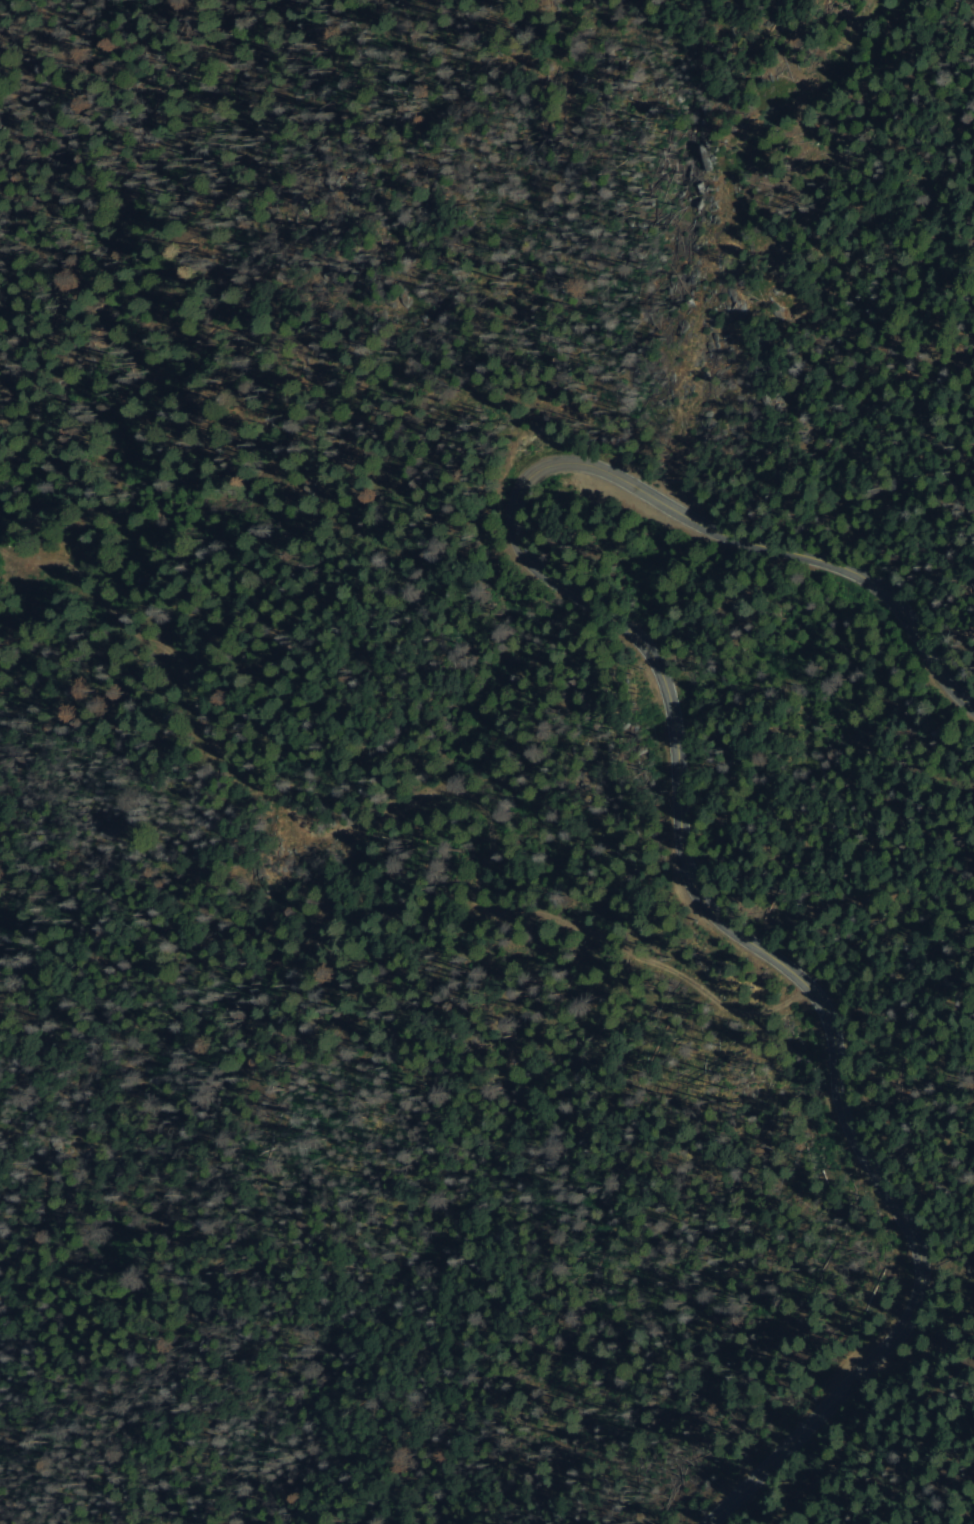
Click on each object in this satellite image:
road: (678, 774)

